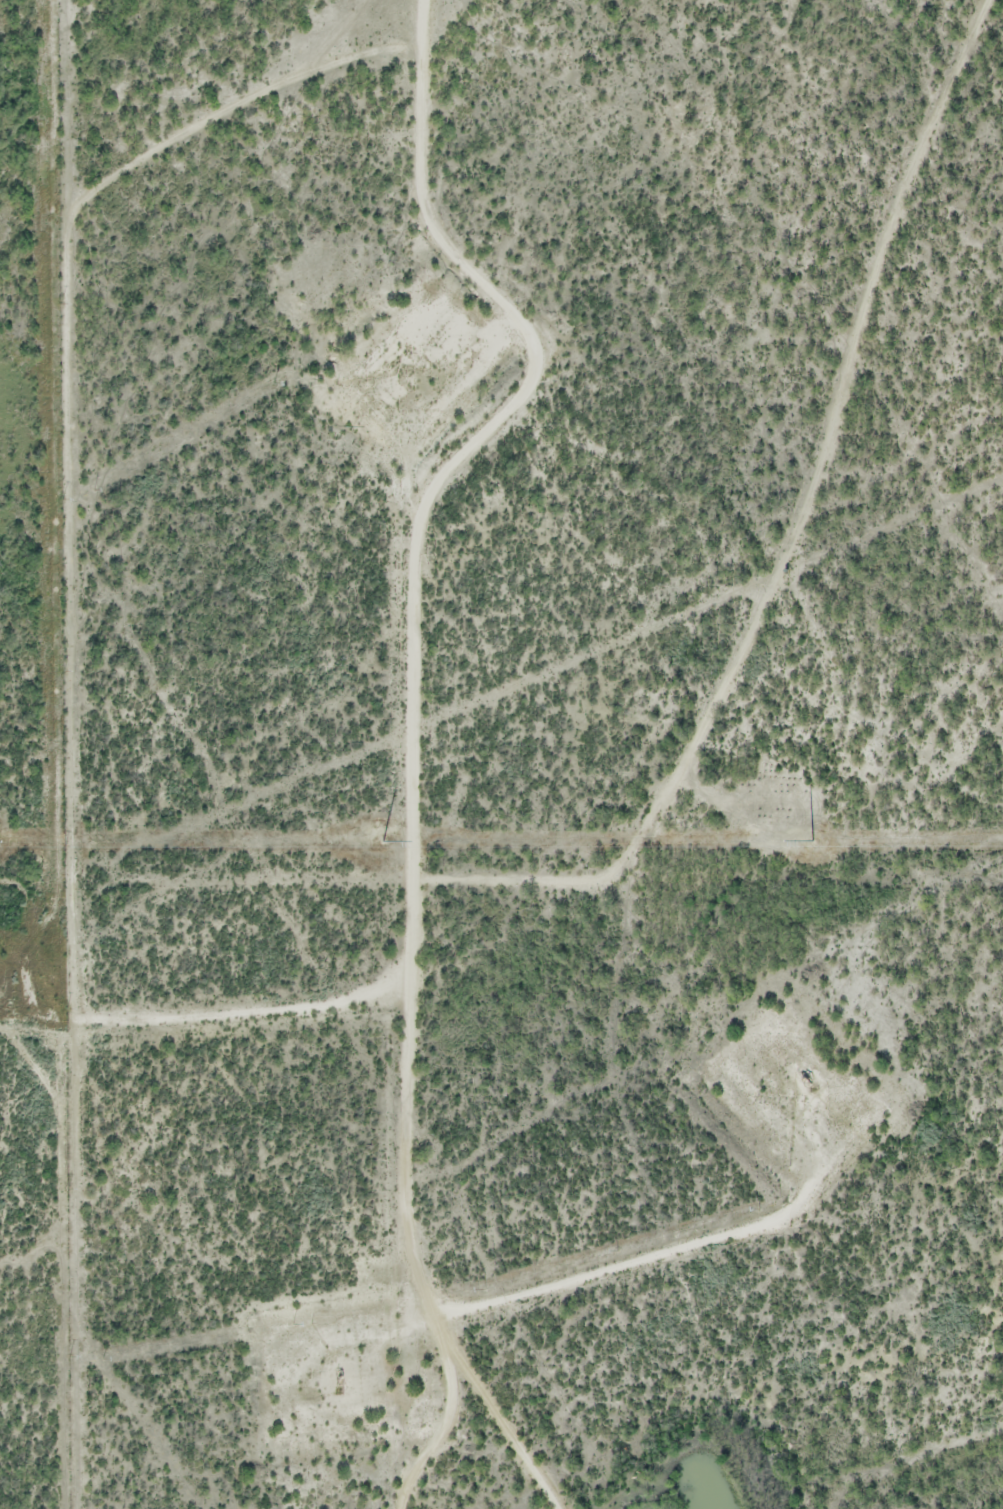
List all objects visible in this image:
road: (77, 754)
power tower: (813, 839)
power tower: (385, 840)

